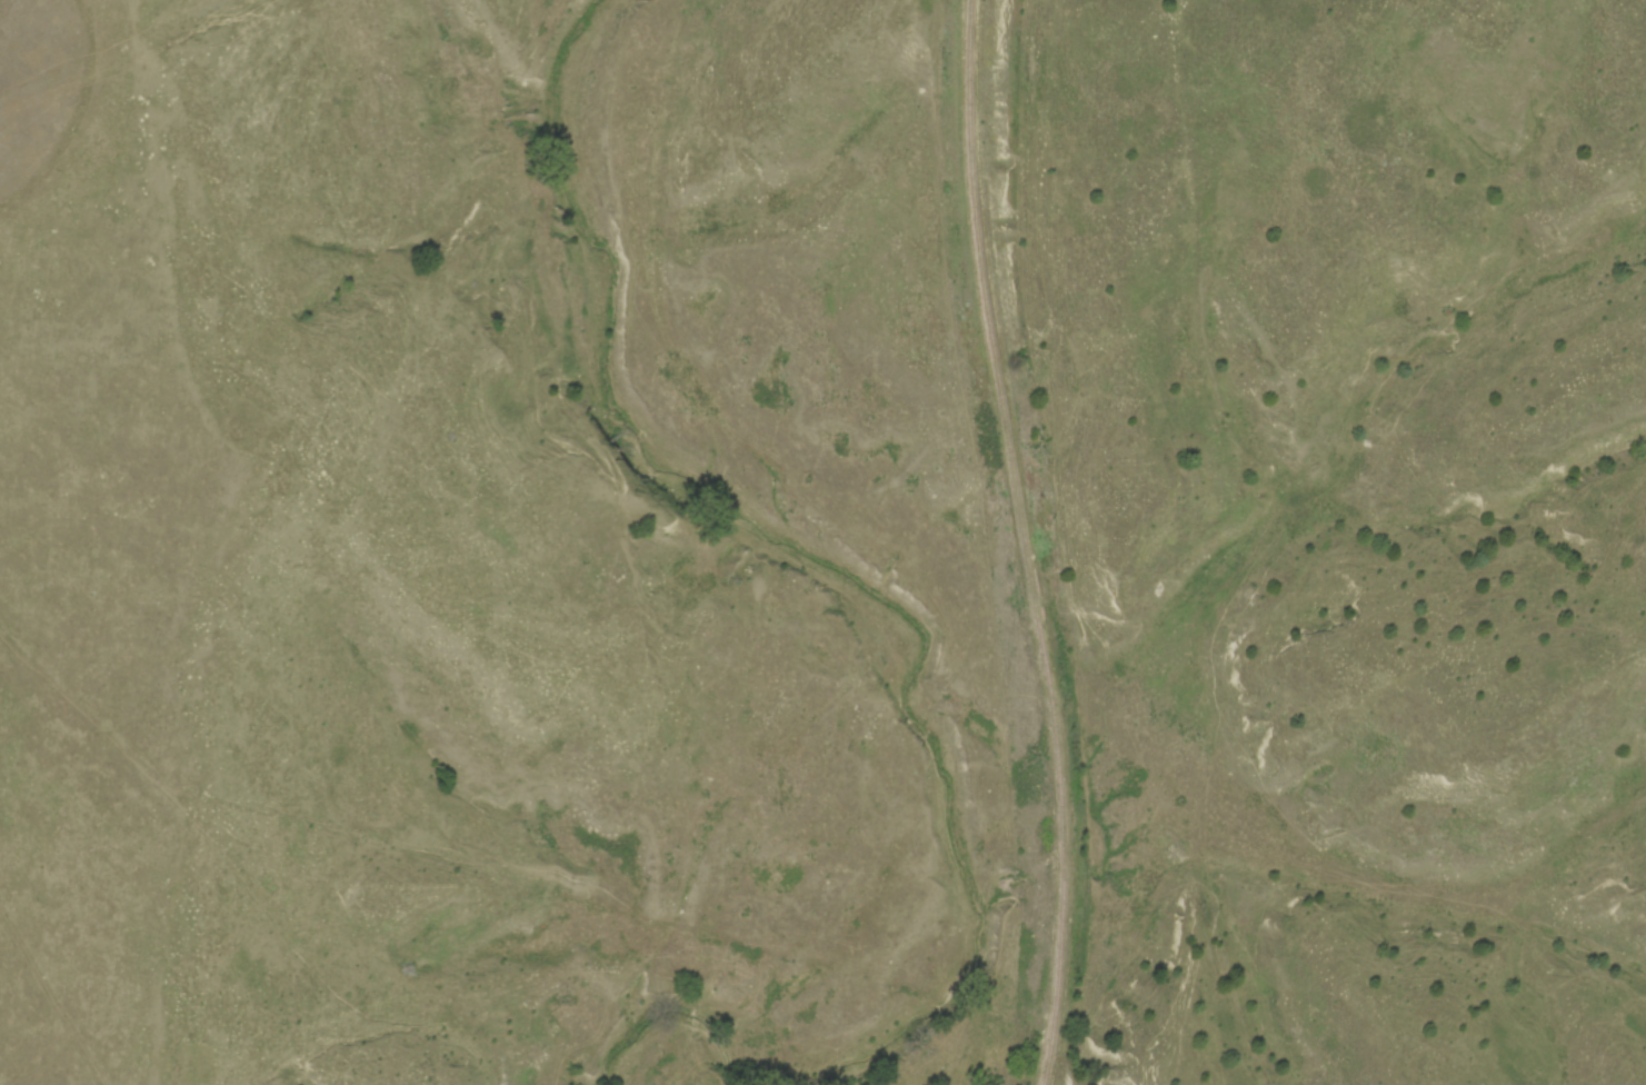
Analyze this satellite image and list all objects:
railway: (1009, 540)

